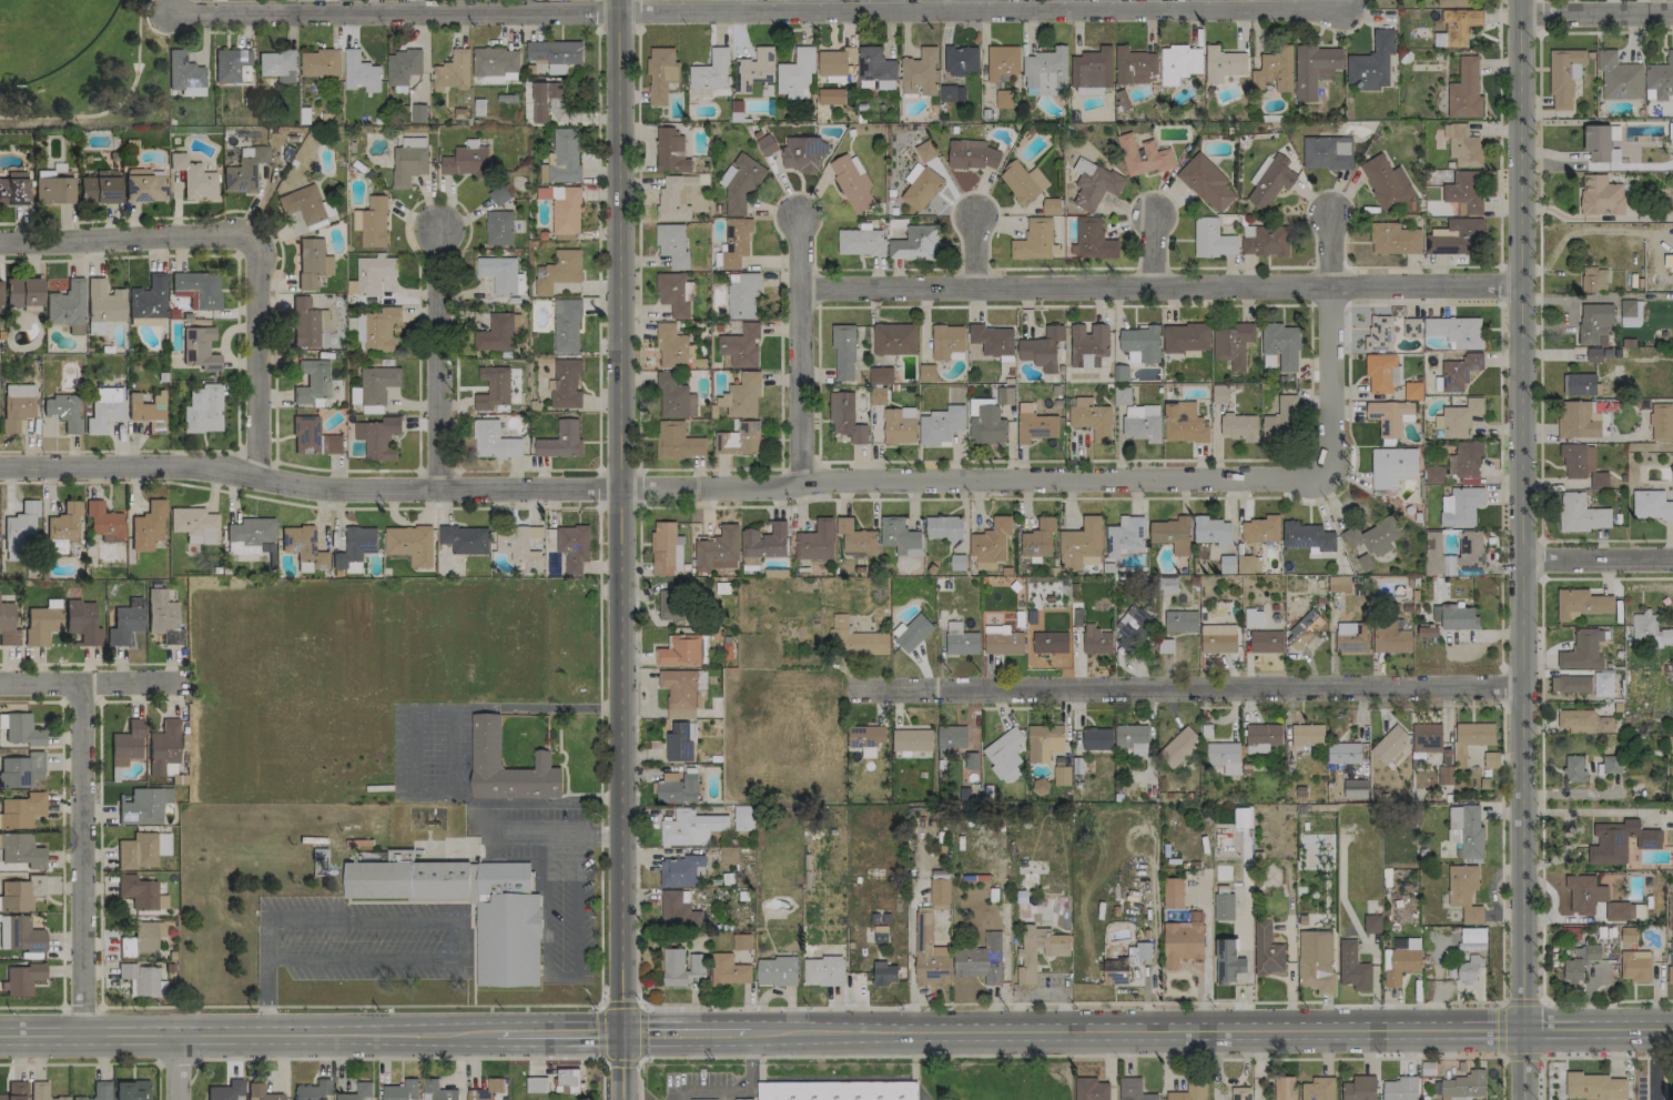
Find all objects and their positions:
building: (1452, 2)
road: (759, 11)
road: (636, 16)
road: (1538, 17)
road: (1599, 17)
building: (1459, 26)
road: (1605, 32)
park: (47, 34)
building: (555, 53)
building: (961, 60)
building: (495, 61)
building: (834, 61)
park: (82, 62)
building: (276, 62)
building: (320, 62)
building: (1002, 62)
building: (1372, 62)
building: (230, 63)
building: (1179, 63)
building: (1223, 63)
building: (874, 64)
building: (402, 65)
building: (1134, 65)
building: (1092, 68)
building: (753, 69)
building: (1315, 69)
building: (1274, 70)
building: (452, 71)
building: (361, 72)
building: (919, 72)
building: (1045, 72)
building: (660, 73)
building: (709, 73)
building: (797, 73)
building: (184, 74)
building: (1564, 75)
building: (1619, 77)
building: (1661, 78)
building: (1464, 89)
building: (951, 93)
building: (831, 95)
building: (1002, 98)
building: (544, 99)
building: (418, 112)
building: (1671, 130)
road: (1500, 133)
building: (1598, 143)
building: (765, 144)
building: (1462, 144)
building: (925, 150)
building: (670, 151)
building: (1327, 152)
building: (802, 153)
building: (972, 154)
building: (564, 155)
building: (1142, 155)
building: (465, 160)
building: (408, 161)
building: (244, 170)
building: (194, 178)
building: (851, 181)
building: (740, 182)
building: (1023, 182)
building: (1206, 182)
building: (1270, 182)
building: (1386, 182)
building: (1094, 183)
building: (144, 184)
building: (921, 186)
building: (13, 188)
building: (100, 188)
road: (1328, 189)
building: (53, 190)
road: (974, 191)
road: (1150, 191)
building: (1464, 191)
building: (1601, 195)
building: (673, 198)
building: (303, 204)
building: (1051, 205)
building: (565, 210)
building: (372, 222)
building: (498, 228)
building: (1454, 236)
building: (1213, 239)
building: (1393, 239)
building: (1034, 240)
building: (1092, 240)
building: (1265, 240)
building: (860, 241)
road: (128, 242)
road: (621, 243)
building: (734, 243)
building: (914, 243)
building: (672, 244)
road: (638, 249)
road: (1153, 249)
road: (974, 251)
building: (1667, 260)
building: (312, 262)
road: (1063, 268)
road: (1150, 268)
road: (1239, 268)
road: (1328, 268)
road: (1423, 268)
road: (974, 269)
building: (557, 271)
building: (373, 273)
building: (498, 273)
road: (780, 274)
building: (1594, 279)
building: (520, 283)
road: (1501, 285)
road: (1539, 286)
building: (199, 287)
road: (1162, 289)
building: (23, 292)
building: (673, 293)
building: (0, 294)
building: (742, 295)
building: (149, 297)
building: (103, 304)
road: (1423, 304)
road: (1328, 305)
building: (68, 306)
building: (1630, 312)
building: (304, 322)
building: (1594, 323)
building: (566, 325)
building: (359, 327)
building: (1411, 327)
building: (382, 329)
building: (1456, 331)
building: (497, 332)
building: (1379, 333)
building: (1186, 337)
building: (894, 339)
building: (946, 340)
building: (992, 340)
building: (1142, 342)
building: (1088, 343)
building: (1231, 343)
building: (1281, 344)
building: (671, 345)
building: (740, 345)
building: (199, 347)
building: (1042, 347)
road: (797, 349)
road: (1335, 351)
building: (843, 352)
building: (1593, 354)
road: (257, 357)
road: (436, 361)
building: (1459, 371)
building: (1121, 372)
building: (1379, 372)
building: (926, 373)
building: (880, 375)
building: (1395, 375)
building: (312, 382)
building: (377, 383)
building: (565, 384)
building: (1579, 384)
building: (493, 387)
building: (1412, 390)
building: (1219, 393)
building: (1001, 394)
building: (876, 395)
building: (1122, 395)
building: (673, 396)
building: (741, 396)
building: (17, 405)
building: (103, 408)
building: (203, 408)
building: (63, 411)
building: (149, 411)
building: (1389, 415)
building: (845, 416)
building: (1091, 417)
building: (1458, 417)
building: (1281, 418)
building: (1576, 420)
building: (985, 421)
building: (1661, 421)
building: (1184, 422)
building: (1142, 423)
building: (899, 424)
building: (941, 424)
building: (1034, 424)
building: (1239, 426)
building: (313, 437)
building: (377, 437)
building: (560, 440)
building: (739, 440)
building: (494, 441)
building: (678, 441)
road: (817, 458)
building: (1466, 458)
building: (1582, 464)
road: (297, 465)
building: (1392, 466)
building: (1433, 474)
road: (977, 480)
road: (1501, 485)
road: (308, 486)
road: (638, 487)
road: (597, 488)
road: (1085, 497)
road: (297, 503)
building: (1460, 505)
building: (1651, 505)
building: (1581, 513)
building: (104, 522)
building: (64, 523)
building: (194, 524)
building: (148, 526)
building: (944, 526)
building: (20, 528)
building: (1210, 529)
building: (1261, 529)
building: (249, 534)
building: (1172, 534)
building: (899, 536)
building: (1307, 536)
building: (1373, 536)
building: (1125, 537)
building: (465, 538)
building: (855, 539)
building: (1038, 539)
building: (815, 541)
road: (1606, 541)
building: (763, 543)
building: (990, 543)
building: (410, 544)
building: (519, 544)
building: (1081, 545)
building: (303, 547)
building: (572, 547)
building: (662, 547)
building: (717, 547)
building: (355, 548)
building: (1470, 549)
road: (1525, 549)
building: (1432, 552)
building: (678, 553)
road: (1540, 559)
building: (1365, 562)
road: (1599, 563)
building: (1227, 564)
building: (1248, 564)
building: (1448, 565)
road: (1606, 577)
building: (1338, 584)
building: (1167, 585)
building: (1581, 604)
building: (670, 605)
building: (163, 616)
building: (1253, 617)
building: (1456, 617)
building: (1180, 620)
building: (83, 622)
building: (42, 623)
building: (124, 624)
building: (8, 625)
building: (1132, 626)
building: (1649, 629)
building: (1306, 632)
building: (1427, 632)
building: (912, 633)
building: (1351, 637)
building: (1390, 637)
building: (854, 638)
building: (1217, 638)
building: (960, 639)
building: (1002, 639)
building: (1096, 639)
building: (1050, 642)
building: (1266, 642)
building: (680, 650)
building: (1582, 650)
road: (91, 663)
building: (1570, 684)
road: (91, 685)
road: (1502, 687)
road: (1185, 688)
building: (679, 692)
road: (582, 706)
road: (1472, 706)
building: (1583, 720)
building: (20, 729)
building: (1307, 735)
building: (1132, 737)
building: (1261, 737)
building: (1427, 737)
building: (865, 738)
building: (950, 738)
building: (1096, 738)
building: (1470, 738)
building: (912, 739)
building: (679, 741)
building: (1044, 741)
building: (1671, 743)
building: (125, 744)
building: (1390, 745)
building: (1178, 746)
road: (412, 747)
building: (163, 748)
building: (1344, 753)
building: (1004, 755)
building: (1224, 756)
road: (598, 757)
building: (485, 758)
building: (1490, 759)
building: (1611, 764)
building: (1573, 768)
building: (20, 769)
building: (1349, 771)
building: (1062, 775)
building: (1446, 775)
building: (677, 787)
building: (1355, 788)
road: (1540, 789)
road: (620, 794)
road: (464, 796)
road: (548, 799)
building: (142, 806)
building: (21, 810)
building: (741, 817)
building: (690, 827)
building: (1466, 829)
road: (554, 836)
building: (1620, 840)
building: (162, 845)
building: (21, 850)
building: (136, 850)
road: (62, 854)
road: (1502, 854)
building: (727, 855)
road: (83, 862)
building: (680, 870)
building: (406, 878)
building: (138, 891)
building: (1463, 891)
building: (20, 892)
building: (1173, 892)
building: (939, 894)
building: (1584, 894)
building: (1223, 906)
building: (678, 909)
building: (1624, 910)
road: (414, 918)
building: (1372, 924)
building: (507, 926)
building: (20, 934)
building: (880, 934)
building: (1629, 934)
building: (1472, 935)
building: (1570, 935)
building: (142, 939)
building: (741, 941)
building: (1182, 942)
building: (1267, 949)
building: (1056, 951)
building: (927, 952)
building: (981, 960)
building: (1316, 960)
building: (1402, 960)
building: (1671, 960)
building: (1227, 961)
building: (1580, 961)
building: (1124, 963)
building: (1635, 966)
building: (680, 967)
building: (1352, 967)
building: (728, 969)
building: (1469, 969)
building: (775, 970)
building: (822, 970)
building: (884, 972)
building: (21, 979)
building: (141, 979)
road: (562, 979)
road: (1522, 1000)
road: (156, 1005)
road: (1608, 1005)
road: (598, 1006)
road: (823, 1008)
road: (1502, 1027)
road: (836, 1033)
road: (1059, 1054)
road: (1521, 1056)
road: (1606, 1056)
road: (395, 1057)
road: (175, 1061)
road: (78, 1062)
road: (1654, 1063)
road: (178, 1069)
road: (1502, 1077)
road: (1541, 1078)
building: (568, 1079)
road: (156, 1080)
road: (601, 1081)
building: (536, 1084)
building: (1464, 1084)
building: (1594, 1086)
building: (1285, 1088)
building: (1318, 1088)
building: (1359, 1088)
road: (737, 1089)
building: (1089, 1089)
building: (1399, 1089)
building: (131, 1090)
building: (225, 1090)
building: (313, 1090)
building: (400, 1090)
building: (486, 1090)
road: (640, 1090)
building: (836, 1090)
building: (1133, 1090)
building: (1190, 1090)
building: (14, 1091)
building: (42, 1091)
building: (98, 1091)
building: (437, 1091)
building: (261, 1092)
building: (356, 1092)
building: (1240, 1093)

